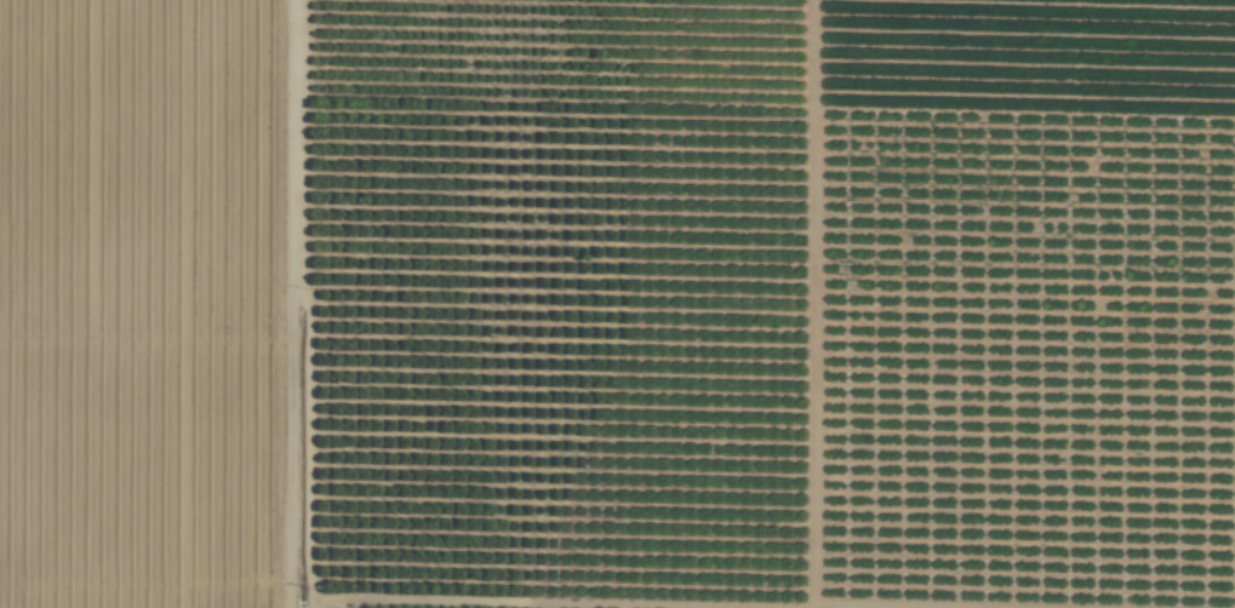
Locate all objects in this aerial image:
crop: (617, 304)

